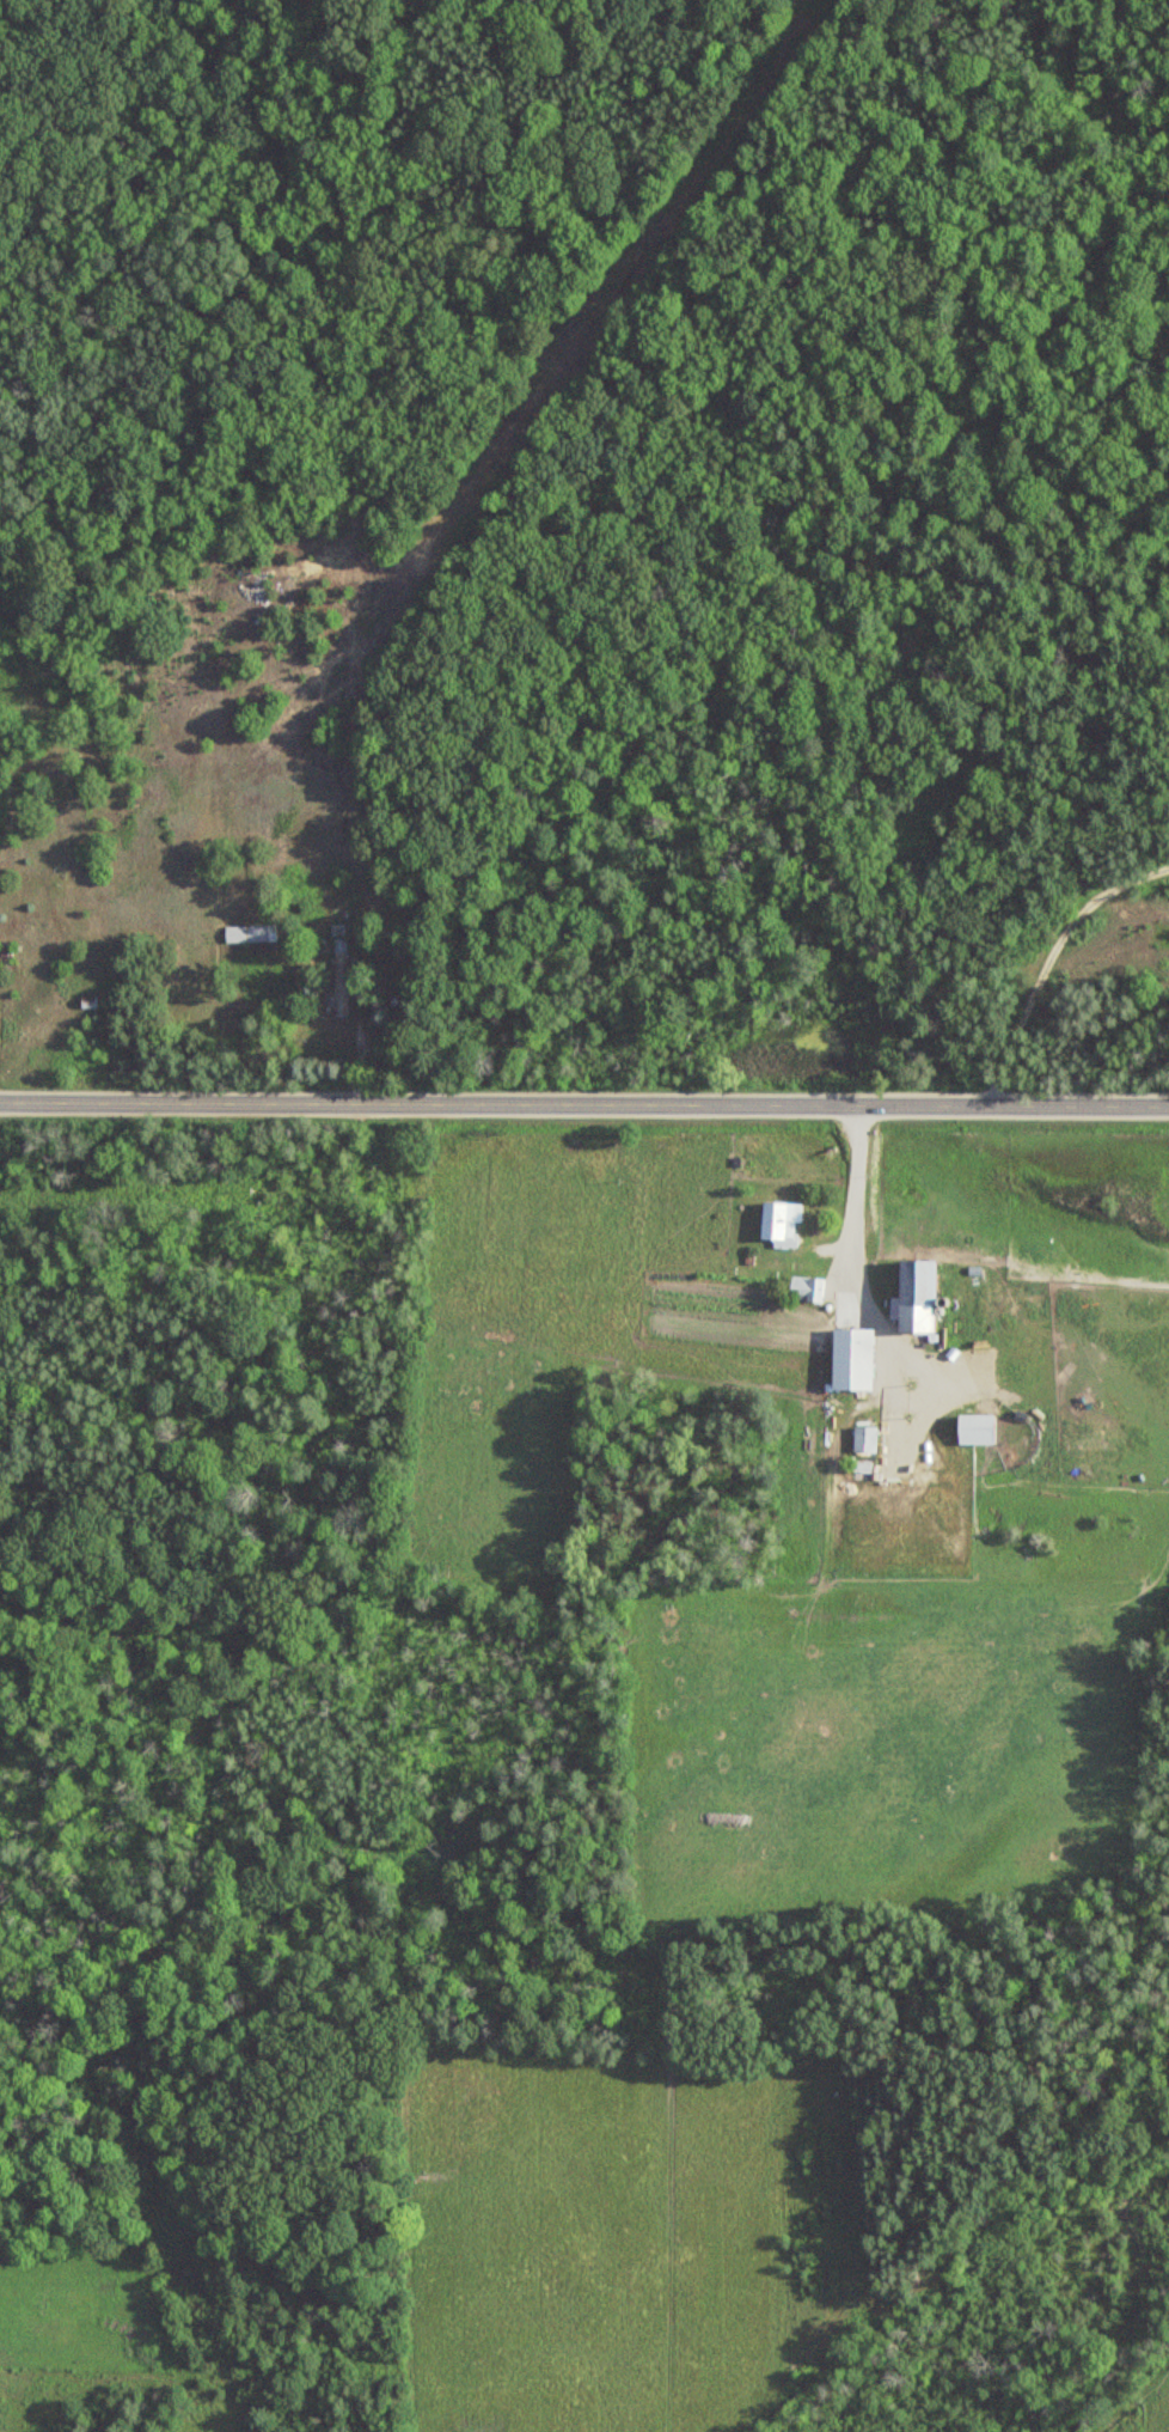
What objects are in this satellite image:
building: (245, 934)
building: (338, 977)
road: (584, 1103)
building: (778, 1225)
building: (803, 1290)
road: (858, 1291)
building: (913, 1297)
building: (973, 1430)
building: (862, 1439)
building: (861, 1467)

